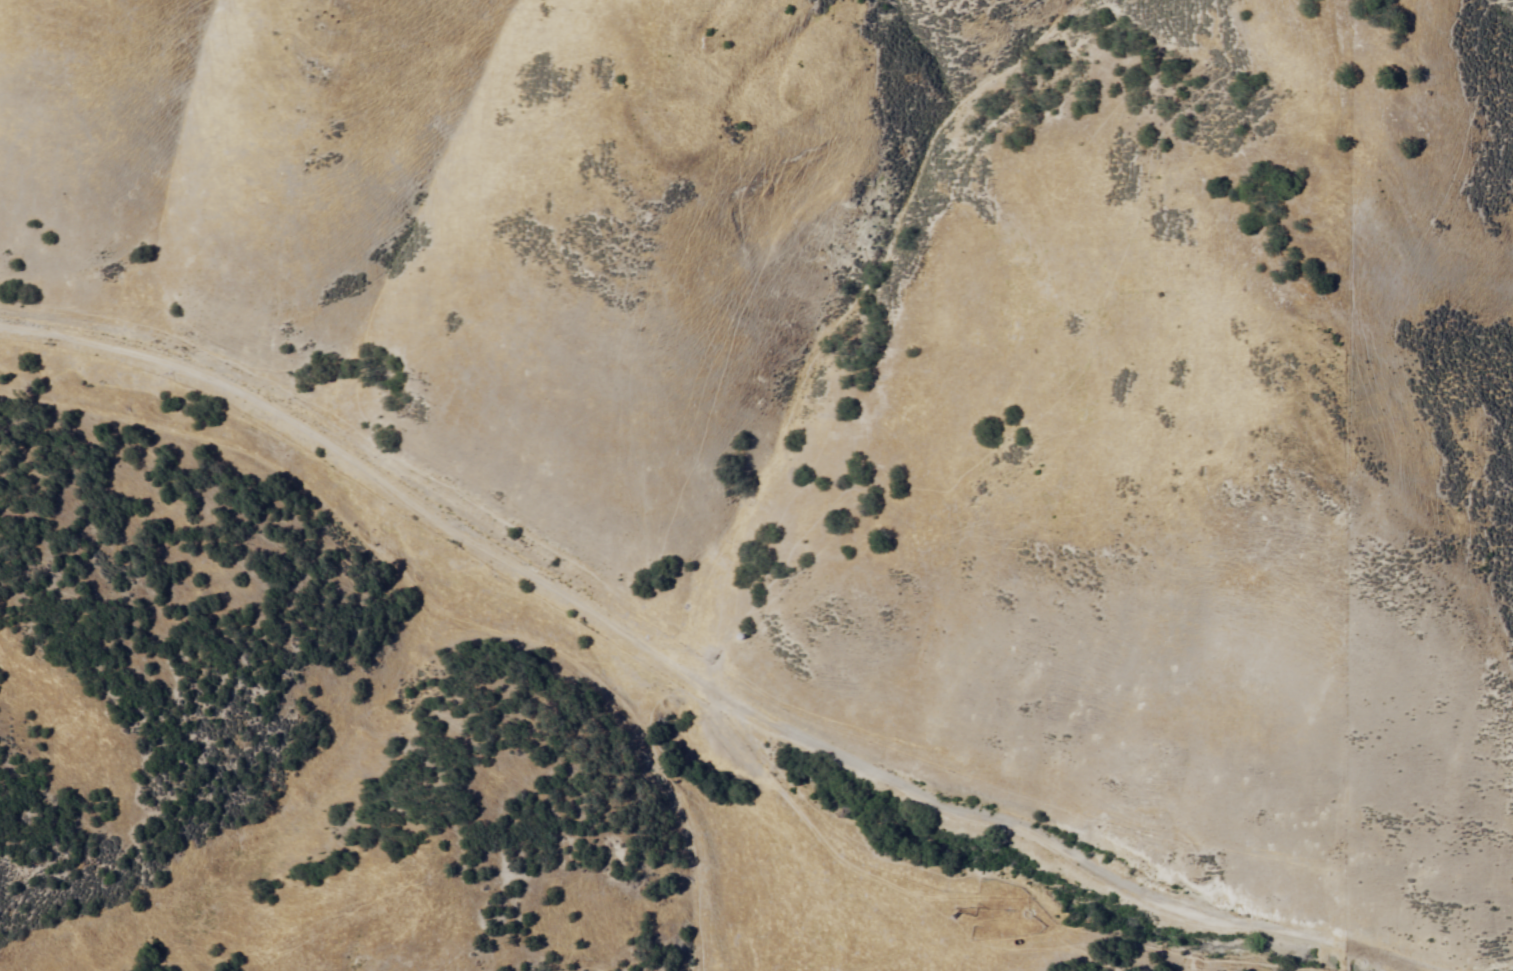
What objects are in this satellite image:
road: (696, 681)

